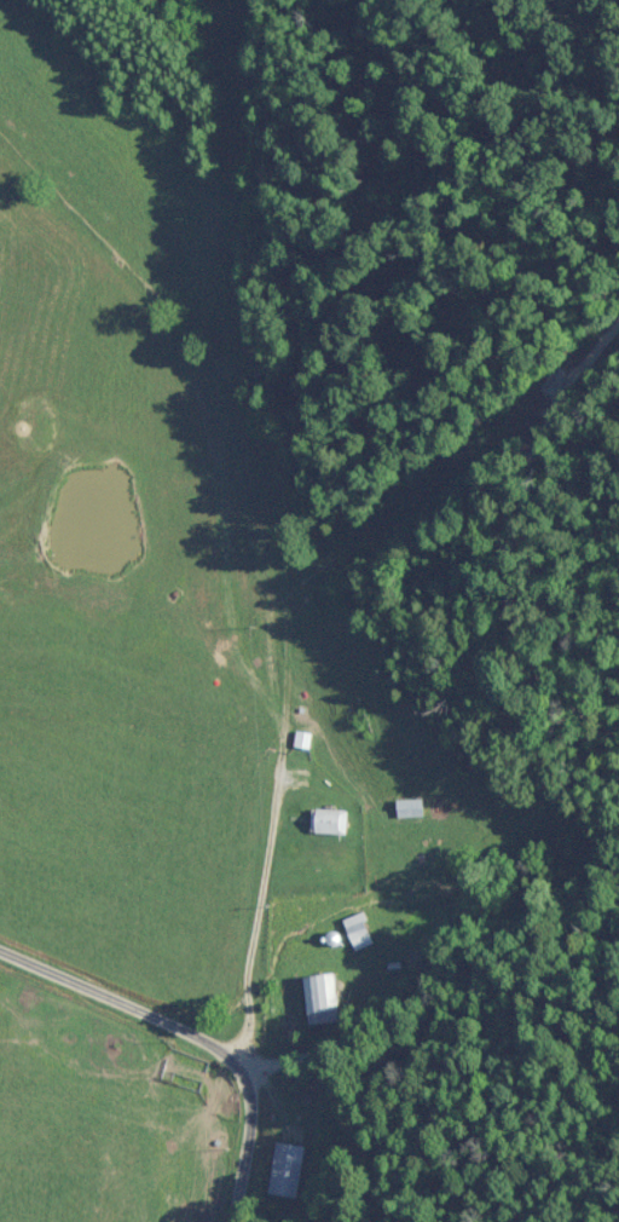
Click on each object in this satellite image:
building: (297, 738)
building: (404, 807)
building: (324, 820)
building: (354, 930)
building: (317, 997)
road: (192, 1036)
building: (283, 1169)

